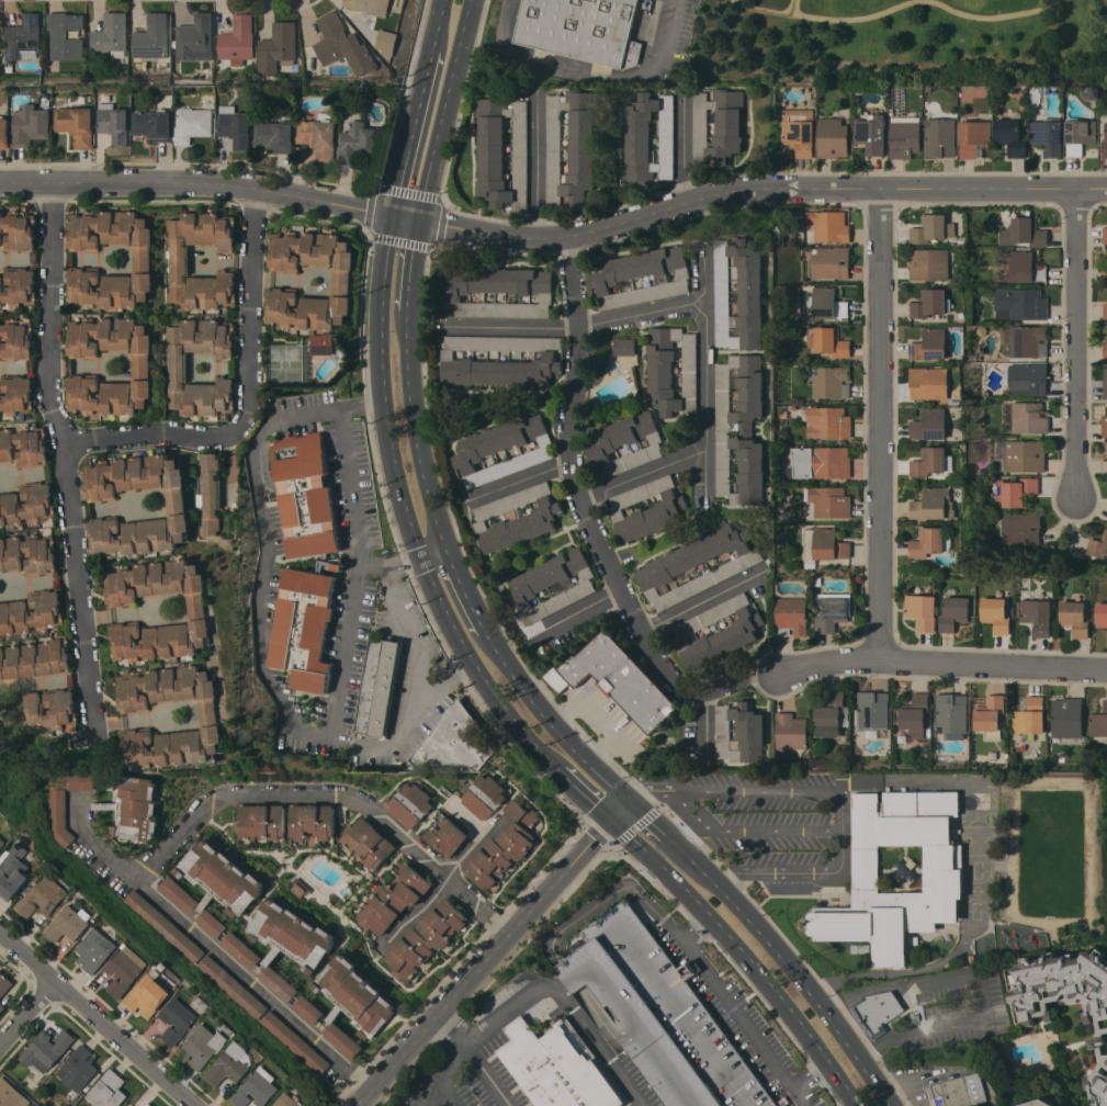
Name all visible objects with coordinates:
building: (370, 7)
road: (979, 16)
road: (437, 21)
road: (843, 22)
building: (581, 30)
building: (112, 34)
building: (66, 35)
building: (23, 37)
building: (153, 37)
building: (196, 38)
building: (238, 39)
building: (387, 43)
park: (894, 44)
building: (343, 45)
building: (278, 47)
road: (594, 75)
road: (444, 112)
building: (75, 122)
building: (113, 123)
building: (154, 124)
building: (193, 124)
building: (30, 125)
building: (718, 125)
building: (235, 126)
road: (411, 131)
building: (799, 132)
building: (4, 133)
building: (871, 133)
building: (276, 134)
building: (1080, 134)
building: (905, 135)
building: (1012, 135)
building: (1048, 135)
building: (319, 136)
building: (939, 137)
building: (973, 137)
building: (648, 138)
building: (832, 138)
building: (359, 143)
building: (571, 147)
building: (1105, 148)
building: (501, 153)
road: (682, 154)
road: (538, 166)
road: (196, 187)
road: (758, 189)
traffic signals: (391, 218)
road: (404, 221)
traffic signals: (418, 224)
building: (828, 226)
building: (933, 228)
building: (18, 232)
building: (1024, 233)
building: (1105, 235)
building: (143, 259)
building: (178, 261)
building: (831, 262)
building: (929, 264)
building: (1025, 267)
road: (411, 268)
building: (1105, 274)
building: (612, 278)
building: (342, 280)
building: (18, 285)
building: (752, 291)
building: (535, 293)
building: (827, 303)
building: (930, 303)
building: (1020, 304)
building: (1105, 311)
road: (583, 324)
building: (15, 340)
building: (829, 341)
building: (1028, 341)
building: (323, 343)
building: (930, 345)
road: (1076, 345)
building: (625, 347)
building: (1105, 350)
building: (456, 360)
building: (142, 366)
building: (177, 368)
building: (671, 370)
road: (704, 377)
building: (1027, 379)
building: (832, 382)
building: (929, 383)
building: (1105, 384)
road: (382, 388)
building: (14, 394)
road: (250, 398)
road: (306, 409)
building: (1029, 418)
road: (879, 421)
building: (828, 422)
building: (929, 425)
building: (1105, 426)
building: (741, 429)
road: (415, 431)
building: (605, 444)
building: (35, 448)
building: (481, 450)
road: (71, 452)
building: (1025, 455)
building: (929, 461)
building: (821, 462)
road: (37, 473)
road: (644, 474)
road: (526, 478)
road: (579, 483)
building: (1018, 492)
building: (211, 495)
building: (306, 496)
building: (829, 501)
building: (27, 505)
building: (934, 505)
road: (116, 507)
building: (178, 508)
building: (664, 509)
building: (516, 518)
building: (1020, 529)
building: (928, 542)
building: (823, 545)
building: (1098, 545)
road: (432, 551)
building: (29, 554)
road: (392, 565)
building: (698, 565)
road: (4, 577)
road: (46, 579)
building: (531, 586)
road: (466, 591)
road: (7, 592)
road: (702, 602)
road: (580, 610)
building: (833, 611)
building: (922, 611)
building: (31, 612)
building: (200, 612)
building: (954, 612)
building: (996, 613)
building: (1102, 614)
road: (128, 616)
building: (1037, 616)
building: (791, 617)
building: (1075, 618)
building: (304, 629)
building: (733, 631)
road: (414, 648)
road: (930, 657)
building: (34, 658)
road: (475, 666)
road: (748, 676)
road: (71, 679)
building: (617, 680)
building: (377, 687)
road: (715, 687)
building: (872, 710)
building: (49, 712)
building: (915, 712)
building: (951, 714)
building: (832, 715)
building: (990, 716)
building: (1030, 716)
building: (1066, 718)
building: (211, 719)
road: (128, 720)
road: (704, 722)
building: (1098, 722)
road: (554, 726)
road: (332, 727)
building: (790, 731)
road: (403, 733)
building: (739, 733)
building: (453, 743)
building: (81, 781)
road: (648, 787)
road: (583, 794)
building: (484, 797)
road: (332, 798)
building: (410, 804)
traffic signals: (633, 804)
building: (134, 808)
road: (840, 813)
building: (59, 816)
building: (261, 822)
building: (312, 822)
parking lot: (771, 823)
traffic signals: (614, 824)
road: (746, 831)
building: (447, 838)
road: (669, 839)
building: (2, 842)
building: (366, 843)
road: (472, 845)
building: (505, 846)
building: (944, 868)
building: (13, 871)
building: (222, 877)
road: (614, 892)
building: (179, 894)
building: (43, 896)
building: (392, 901)
road: (419, 909)
building: (212, 923)
building: (69, 924)
building: (163, 925)
building: (292, 934)
building: (423, 939)
building: (240, 949)
building: (95, 950)
road: (214, 952)
road: (497, 955)
road: (743, 957)
building: (126, 970)
building: (278, 982)
building: (4, 983)
road: (803, 984)
building: (233, 986)
road: (852, 992)
road: (560, 993)
building: (149, 994)
building: (354, 996)
building: (1, 1007)
road: (734, 1008)
building: (308, 1009)
building: (877, 1011)
road: (27, 1013)
building: (658, 1015)
road: (986, 1017)
road: (97, 1019)
parking lot: (741, 1019)
building: (179, 1020)
building: (1099, 1026)
building: (342, 1040)
building: (295, 1042)
building: (205, 1046)
parking lot: (486, 1048)
building: (46, 1049)
building: (231, 1065)
building: (78, 1069)
building: (556, 1069)
road: (447, 1071)
road: (485, 1075)
parking lot: (630, 1081)
building: (258, 1088)
building: (109, 1090)
building: (960, 1091)
building: (11, 1094)
road: (447, 1095)
building: (289, 1101)
building: (1038, 1103)
building: (148, 1104)
building: (128, 1105)
building: (129, 1105)

